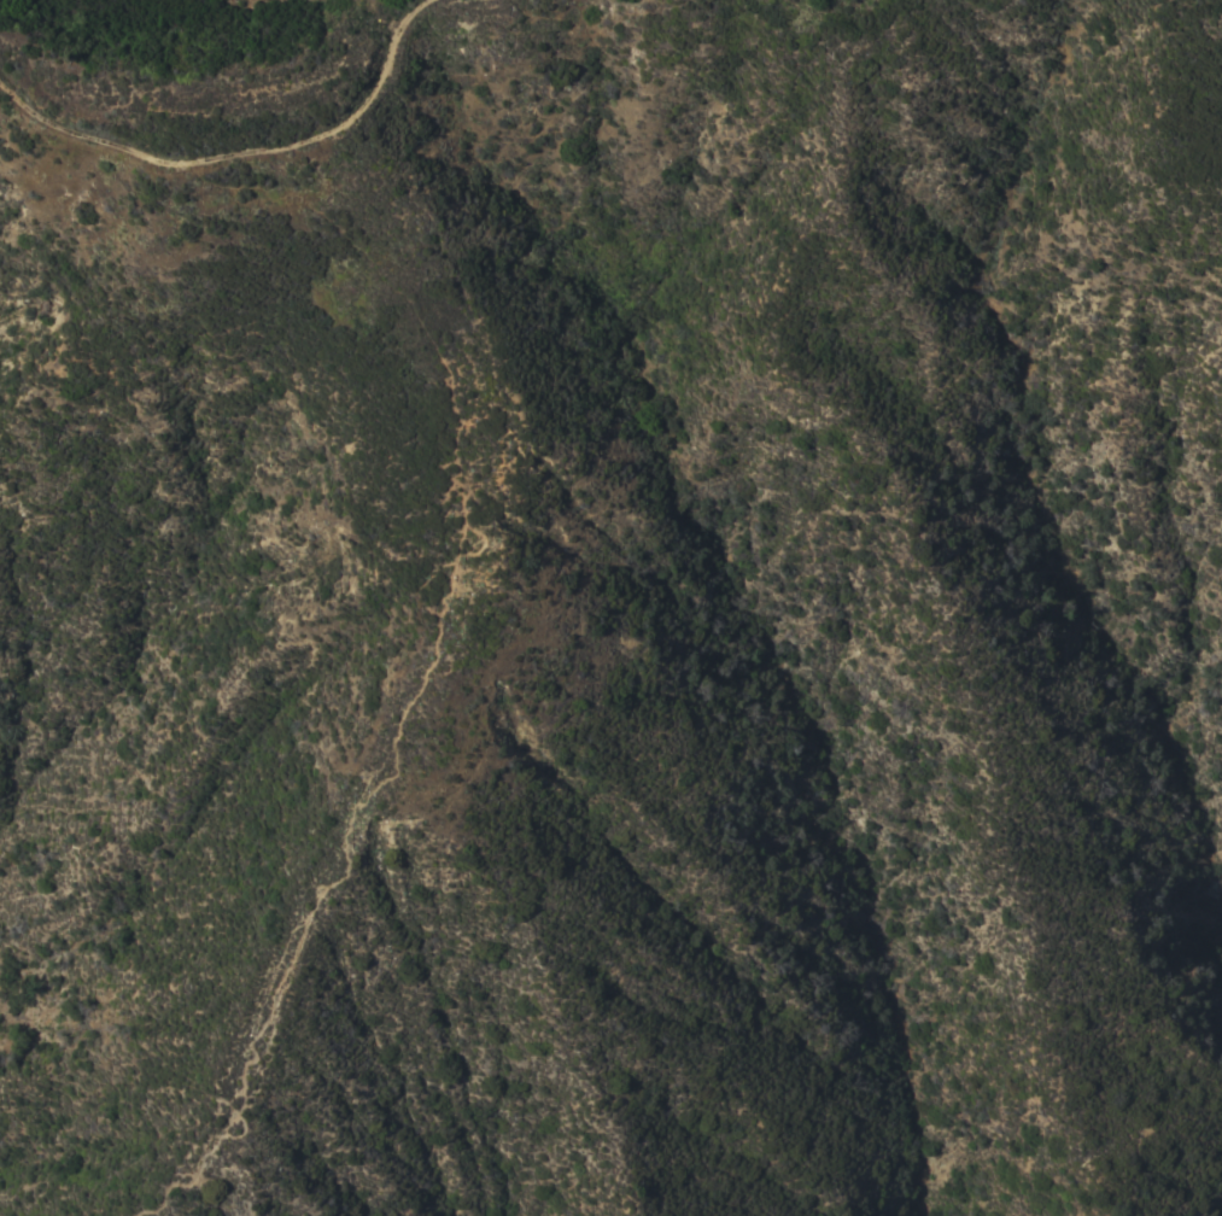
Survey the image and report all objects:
road: (351, 138)
road: (82, 140)
road: (423, 642)
road: (183, 1191)

